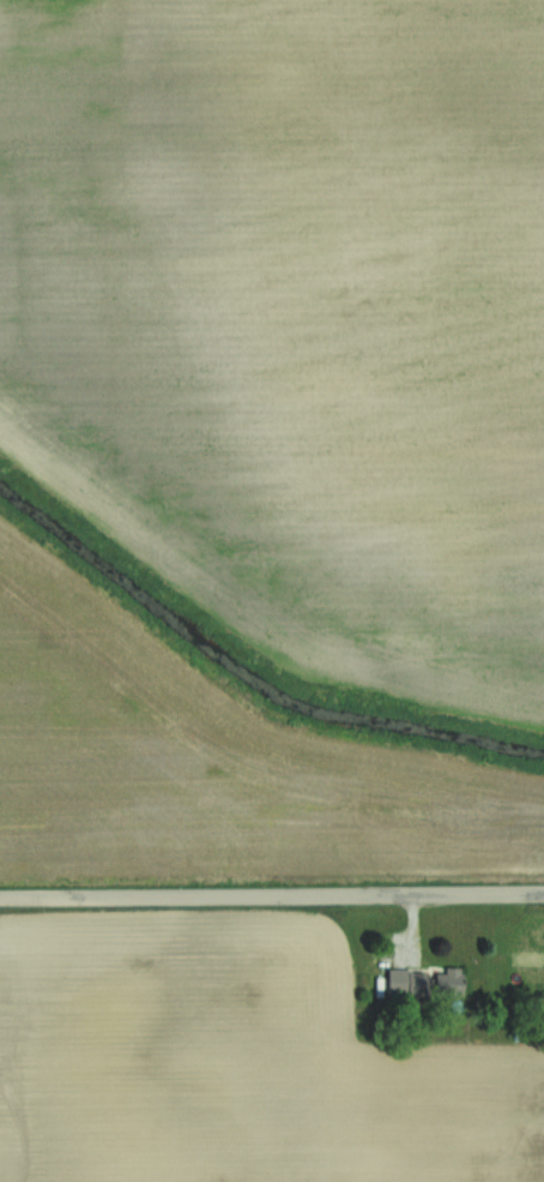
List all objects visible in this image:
road: (271, 896)
building: (449, 984)
building: (418, 988)

